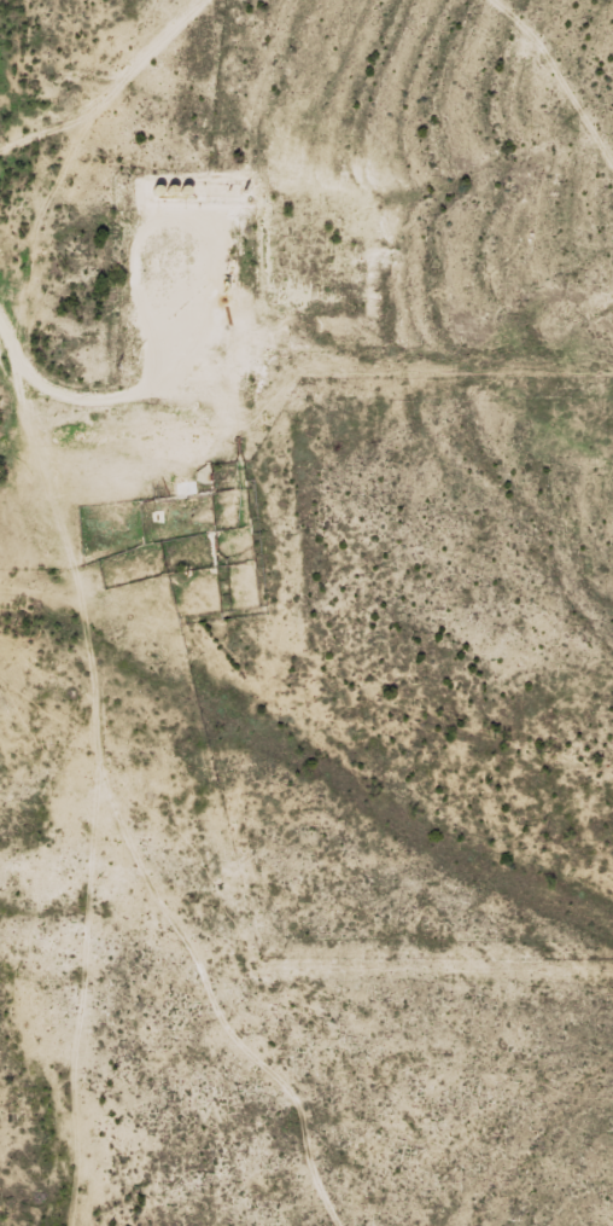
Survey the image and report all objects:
road: (568, 62)
road: (117, 92)
road: (33, 208)
road: (42, 423)

